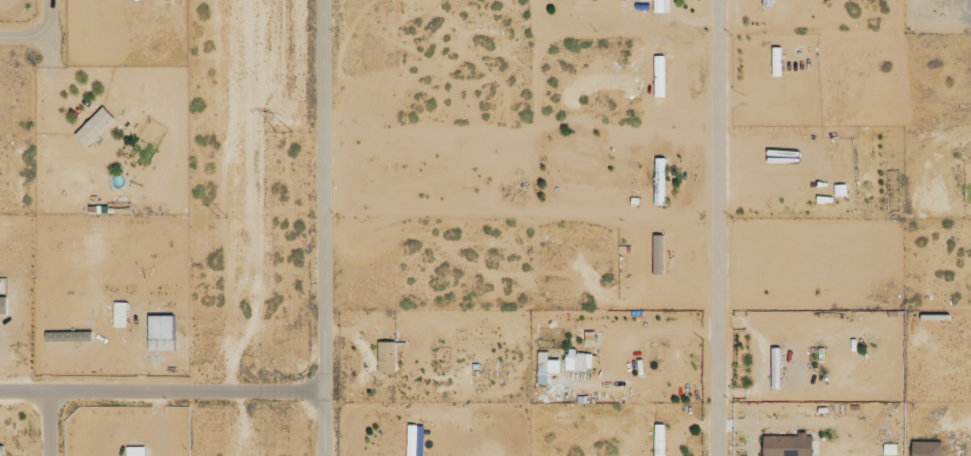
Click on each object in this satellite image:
building: (768, 3)
road: (37, 33)
building: (777, 62)
building: (95, 127)
power tower: (286, 127)
building: (776, 183)
power tower: (221, 215)
road: (322, 228)
road: (720, 228)
building: (387, 356)
building: (777, 367)
road: (161, 391)
road: (47, 423)
building: (658, 439)
building: (778, 446)

